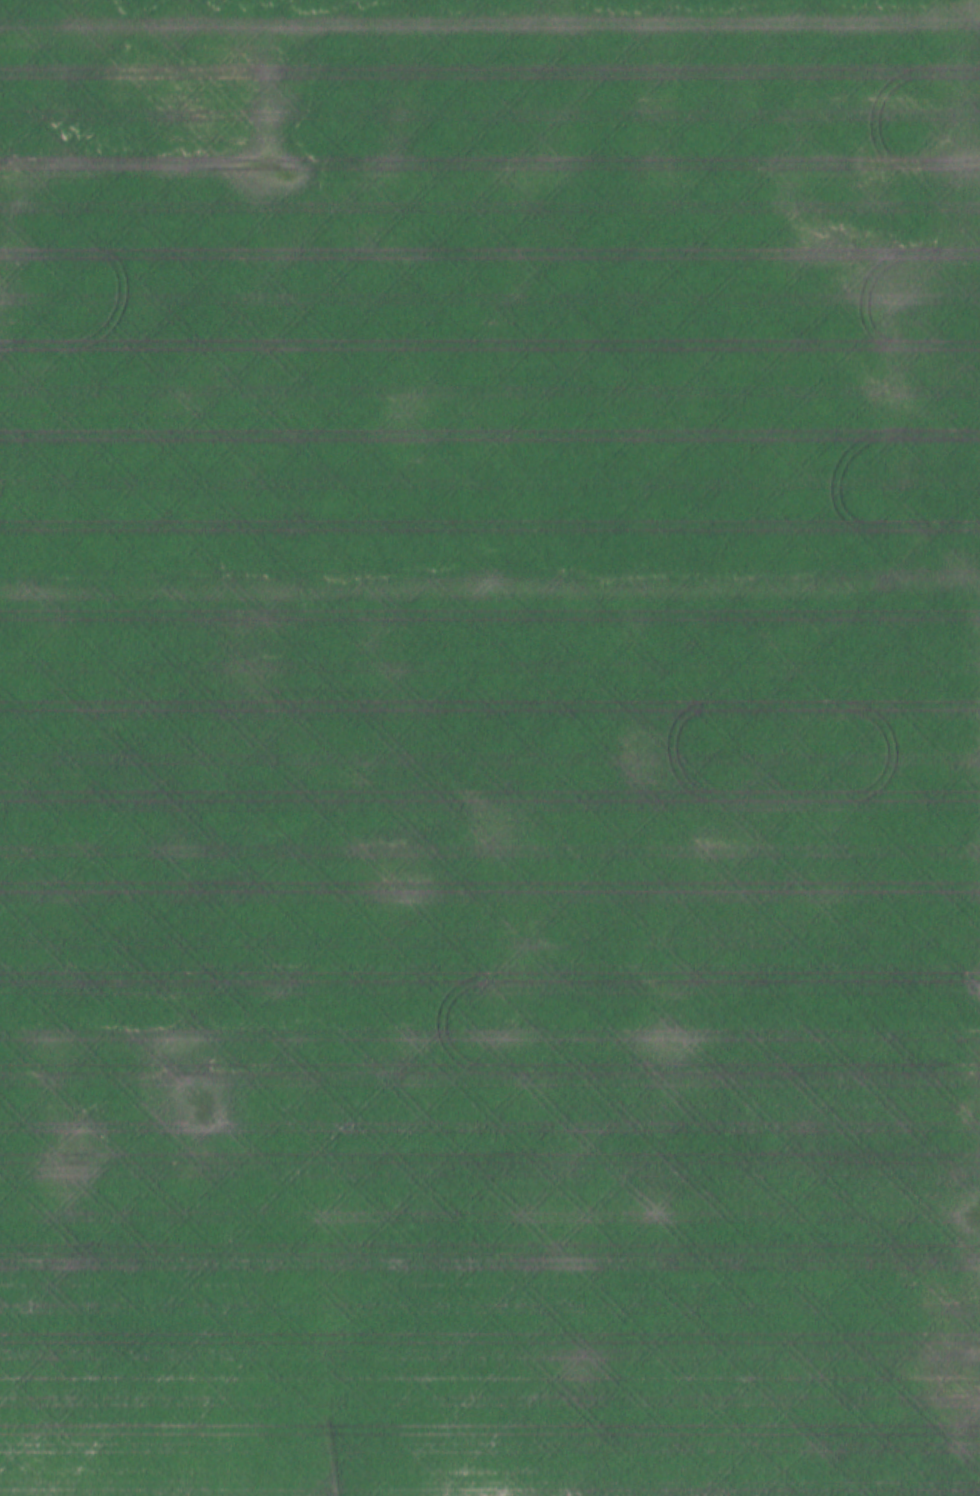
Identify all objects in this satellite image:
crop: (490, 748)

